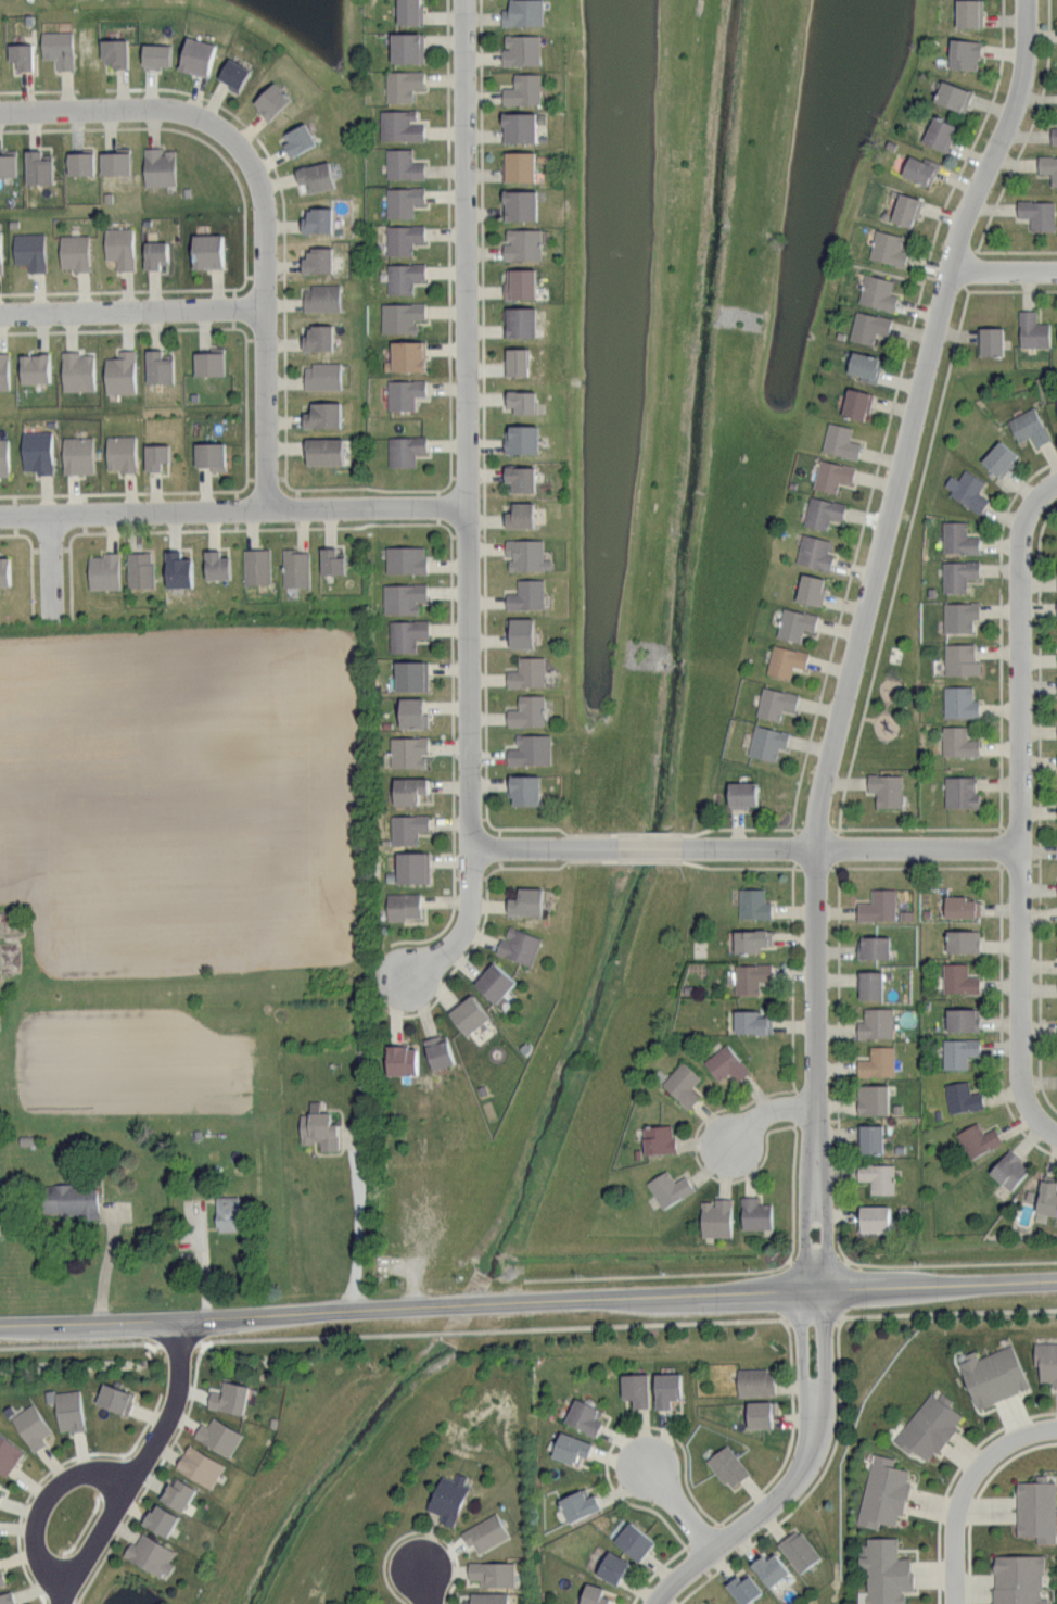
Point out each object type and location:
building: (408, 12)
building: (522, 13)
building: (968, 13)
building: (56, 48)
building: (405, 48)
building: (520, 50)
building: (113, 52)
building: (963, 54)
building: (20, 55)
building: (154, 55)
building: (195, 56)
building: (232, 74)
building: (402, 85)
building: (522, 89)
building: (952, 97)
road: (211, 100)
building: (270, 101)
building: (399, 125)
building: (518, 127)
road: (178, 129)
road: (1030, 129)
building: (939, 134)
building: (1053, 135)
building: (297, 140)
building: (79, 161)
building: (113, 161)
building: (7, 162)
building: (402, 164)
building: (37, 165)
building: (157, 165)
building: (518, 166)
building: (1048, 167)
building: (920, 169)
building: (314, 175)
road: (954, 187)
road: (263, 199)
building: (402, 200)
building: (519, 203)
building: (905, 210)
building: (1037, 214)
building: (316, 217)
building: (402, 237)
road: (450, 238)
building: (522, 242)
building: (118, 245)
building: (28, 249)
building: (205, 249)
building: (887, 249)
building: (73, 251)
road: (1009, 251)
building: (154, 252)
building: (316, 257)
road: (887, 271)
road: (1007, 271)
building: (402, 276)
road: (940, 277)
road: (245, 281)
building: (519, 281)
road: (1003, 290)
road: (122, 291)
building: (876, 291)
building: (320, 296)
road: (131, 311)
building: (399, 315)
building: (520, 319)
building: (867, 325)
road: (240, 328)
road: (116, 329)
building: (1032, 329)
building: (317, 336)
building: (990, 339)
building: (407, 353)
building: (515, 359)
building: (207, 362)
building: (864, 365)
building: (33, 366)
building: (157, 366)
building: (3, 370)
building: (76, 370)
building: (119, 371)
building: (320, 375)
road: (285, 380)
building: (403, 392)
building: (521, 400)
building: (1056, 401)
building: (856, 402)
road: (247, 405)
building: (321, 413)
building: (1029, 426)
building: (520, 437)
building: (839, 440)
building: (404, 449)
building: (36, 450)
building: (322, 450)
building: (119, 452)
building: (76, 454)
building: (208, 454)
building: (154, 455)
building: (3, 456)
building: (997, 456)
road: (877, 469)
road: (468, 471)
building: (831, 475)
building: (519, 477)
road: (247, 482)
road: (448, 483)
road: (371, 487)
road: (293, 488)
building: (966, 488)
road: (130, 492)
road: (11, 495)
road: (233, 510)
building: (822, 511)
building: (519, 514)
road: (908, 532)
road: (11, 534)
road: (75, 534)
building: (957, 536)
road: (29, 540)
building: (814, 551)
building: (525, 554)
building: (404, 558)
building: (330, 560)
building: (215, 564)
building: (256, 565)
road: (51, 566)
building: (295, 567)
building: (139, 568)
building: (176, 568)
building: (3, 569)
building: (102, 570)
road: (453, 573)
building: (957, 573)
road: (71, 580)
road: (33, 583)
building: (810, 588)
building: (525, 594)
building: (402, 596)
building: (958, 615)
building: (794, 623)
building: (520, 631)
building: (406, 633)
road: (856, 634)
building: (959, 658)
building: (785, 659)
park: (893, 660)
building: (526, 671)
building: (410, 674)
road: (820, 697)
building: (958, 700)
building: (775, 702)
building: (526, 710)
building: (411, 711)
road: (868, 717)
building: (957, 741)
building: (766, 742)
building: (528, 748)
building: (407, 750)
building: (407, 788)
building: (523, 788)
building: (884, 788)
building: (960, 791)
building: (741, 793)
road: (842, 804)
road: (1019, 806)
road: (1040, 808)
building: (406, 828)
road: (527, 829)
road: (747, 846)
road: (647, 861)
building: (411, 866)
road: (915, 867)
building: (524, 900)
building: (752, 902)
building: (402, 905)
building: (877, 905)
building: (960, 906)
building: (751, 939)
building: (962, 939)
building: (518, 945)
building: (871, 946)
road: (434, 958)
road: (464, 958)
road: (792, 976)
building: (747, 977)
building: (957, 978)
building: (494, 982)
building: (869, 984)
building: (468, 1013)
building: (962, 1018)
road: (1002, 1020)
building: (750, 1021)
building: (875, 1022)
building: (437, 1050)
building: (958, 1051)
building: (399, 1059)
building: (877, 1061)
building: (725, 1063)
building: (682, 1084)
building: (962, 1096)
building: (871, 1098)
road: (769, 1113)
building: (317, 1127)
building: (869, 1137)
building: (658, 1138)
building: (978, 1139)
road: (697, 1155)
road: (840, 1166)
building: (1009, 1169)
building: (877, 1176)
building: (668, 1187)
building: (69, 1199)
building: (1046, 1199)
building: (226, 1212)
building: (754, 1213)
building: (715, 1217)
building: (874, 1217)
road: (357, 1222)
road: (105, 1263)
road: (728, 1272)
road: (527, 1301)
road: (948, 1312)
road: (775, 1319)
road: (839, 1324)
road: (455, 1330)
road: (77, 1342)
road: (202, 1343)
road: (155, 1344)
building: (1047, 1360)
building: (995, 1375)
building: (756, 1381)
building: (637, 1389)
building: (668, 1389)
road: (802, 1390)
road: (824, 1392)
building: (231, 1398)
building: (117, 1399)
building: (71, 1410)
building: (762, 1414)
building: (586, 1416)
building: (34, 1426)
road: (145, 1426)
building: (931, 1426)
road: (792, 1430)
road: (623, 1432)
building: (220, 1436)
building: (573, 1449)
building: (9, 1454)
road: (137, 1466)
building: (202, 1466)
building: (729, 1466)
road: (954, 1477)
building: (0, 1483)
road: (963, 1488)
building: (179, 1493)
road: (806, 1493)
building: (886, 1493)
building: (1, 1494)
road: (28, 1496)
building: (450, 1498)
road: (976, 1499)
road: (137, 1503)
building: (582, 1504)
road: (41, 1505)
road: (678, 1508)
building: (1039, 1508)
building: (163, 1519)
road: (722, 1521)
road: (417, 1530)
building: (487, 1532)
building: (637, 1541)
road: (721, 1543)
building: (801, 1550)
building: (152, 1554)
building: (614, 1567)
building: (773, 1569)
road: (658, 1570)
building: (888, 1571)
building: (494, 1574)
building: (2, 1576)
building: (1020, 1579)
road: (425, 1586)
park: (119, 1587)
building: (747, 1588)
building: (596, 1595)
building: (8, 1597)
building: (489, 1599)
building: (706, 1603)

